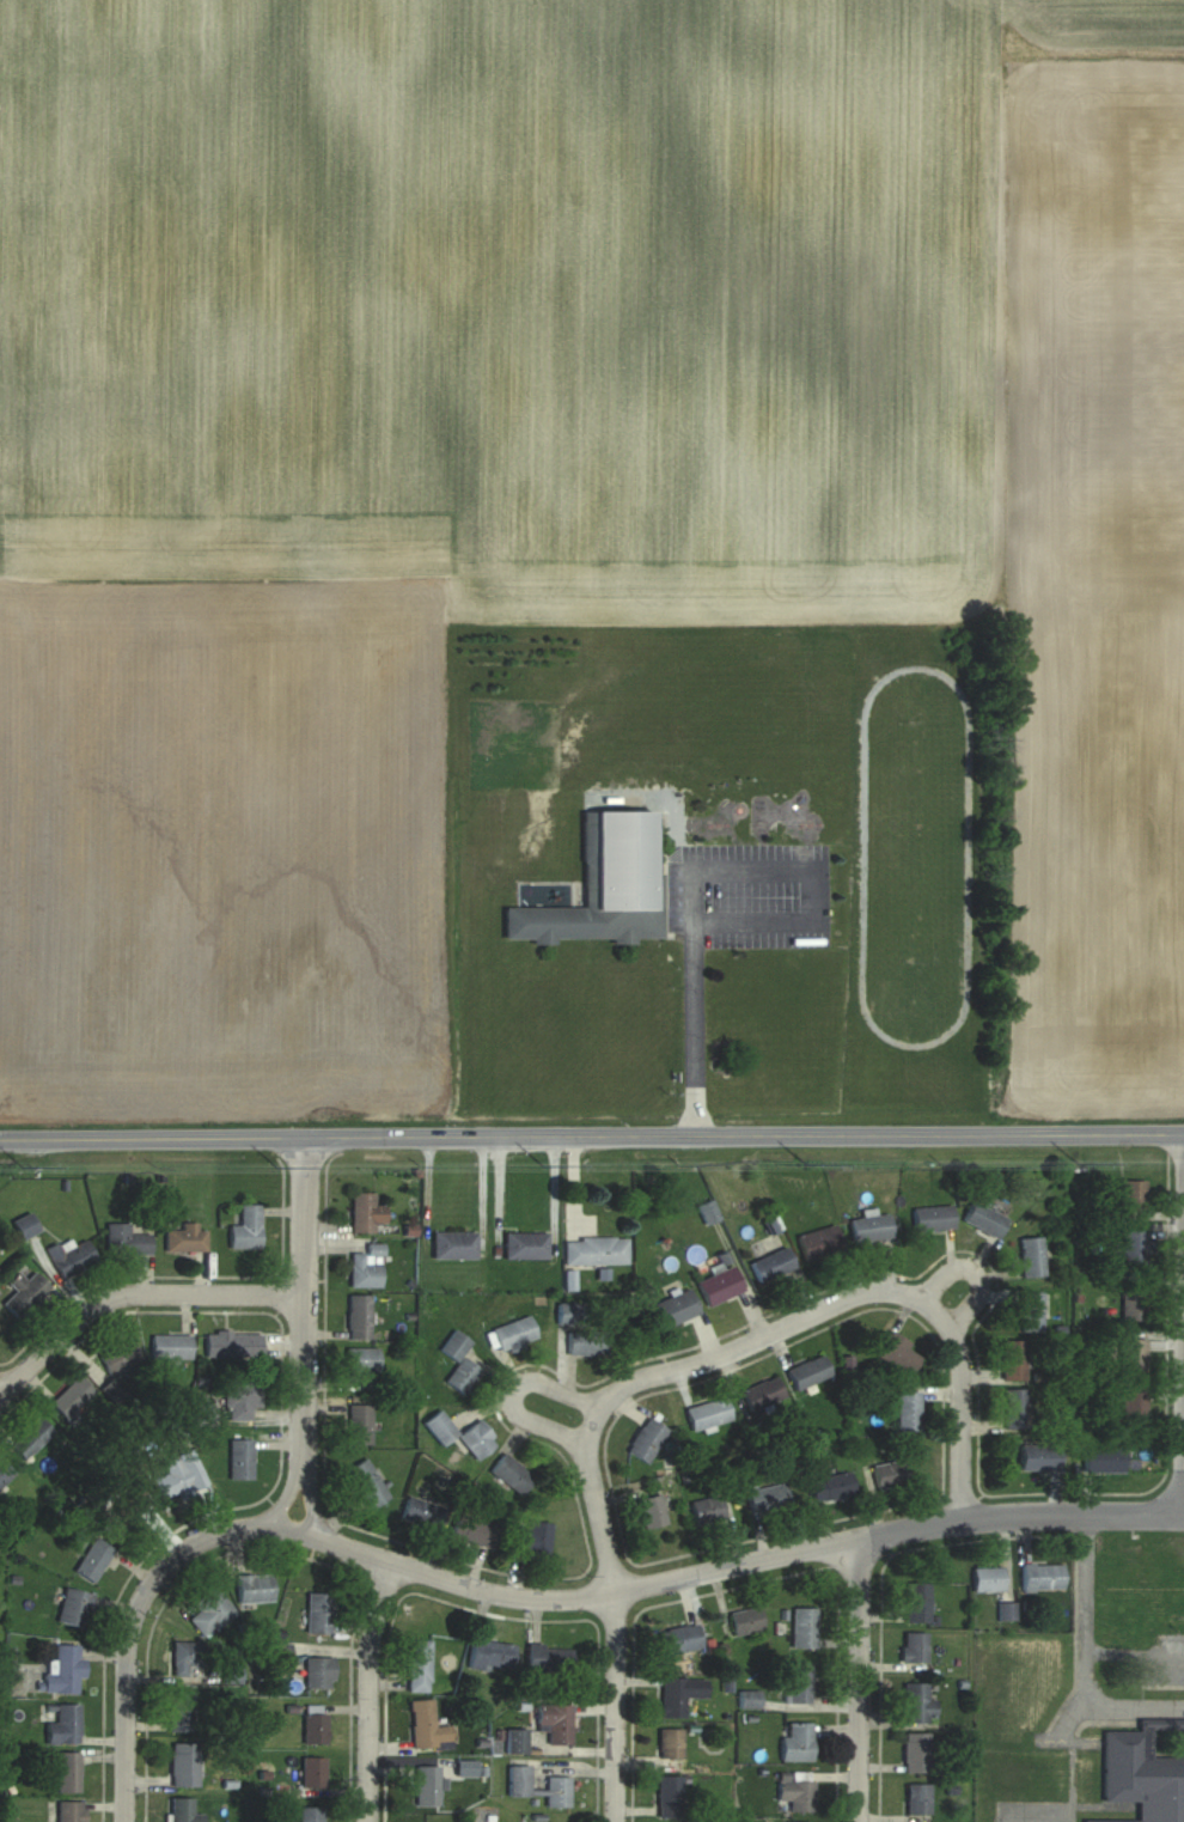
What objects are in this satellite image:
road: (706, 872)
building: (604, 886)
road: (746, 1135)
road: (154, 1138)
building: (1133, 1195)
building: (365, 1213)
building: (932, 1218)
building: (983, 1219)
building: (24, 1225)
building: (246, 1229)
building: (869, 1229)
building: (184, 1238)
building: (126, 1241)
building: (818, 1243)
building: (454, 1245)
building: (525, 1245)
building: (1134, 1249)
building: (596, 1250)
building: (71, 1256)
building: (1031, 1257)
building: (771, 1265)
building: (366, 1268)
building: (719, 1285)
building: (23, 1293)
road: (133, 1294)
road: (306, 1294)
building: (1133, 1300)
building: (675, 1308)
building: (1031, 1311)
building: (568, 1312)
building: (358, 1317)
road: (1180, 1323)
building: (513, 1334)
building: (586, 1341)
building: (232, 1343)
building: (170, 1346)
road: (733, 1351)
building: (896, 1353)
building: (118, 1355)
building: (1131, 1358)
building: (1013, 1360)
building: (360, 1361)
building: (458, 1364)
building: (806, 1372)
road: (517, 1393)
road: (0, 1394)
building: (762, 1394)
building: (240, 1397)
building: (72, 1399)
road: (960, 1404)
building: (1015, 1408)
building: (907, 1410)
building: (1133, 1410)
building: (707, 1414)
building: (359, 1424)
building: (439, 1427)
building: (30, 1437)
building: (476, 1439)
building: (646, 1439)
building: (1039, 1457)
building: (240, 1458)
building: (1103, 1458)
building: (4, 1473)
building: (511, 1474)
building: (887, 1474)
building: (170, 1482)
building: (367, 1483)
building: (830, 1486)
road: (292, 1487)
road: (307, 1494)
building: (767, 1497)
building: (122, 1506)
building: (707, 1510)
building: (652, 1511)
building: (422, 1512)
road: (1182, 1513)
building: (475, 1531)
building: (533, 1537)
building: (93, 1559)
road: (746, 1562)
building: (1042, 1577)
building: (987, 1578)
building: (254, 1588)
building: (917, 1603)
road: (140, 1604)
building: (73, 1607)
building: (210, 1611)
building: (318, 1613)
building: (745, 1621)
building: (804, 1627)
building: (679, 1639)
building: (914, 1647)
building: (280, 1653)
building: (490, 1655)
road: (1081, 1656)
building: (187, 1658)
building: (548, 1659)
building: (417, 1665)
building: (65, 1670)
building: (319, 1672)
building: (233, 1674)
road: (860, 1680)
building: (799, 1683)
road: (367, 1689)
building: (681, 1694)
building: (917, 1705)
road: (618, 1706)
building: (179, 1712)
building: (555, 1723)
building: (63, 1725)
building: (427, 1726)
building: (517, 1742)
building: (797, 1742)
building: (670, 1743)
building: (916, 1754)
building: (183, 1765)
building: (68, 1772)
building: (312, 1772)
building: (1142, 1777)
building: (518, 1778)
building: (427, 1785)
building: (557, 1792)
building: (795, 1792)
building: (669, 1796)
building: (917, 1798)
building: (183, 1810)
building: (69, 1811)
building: (310, 1814)

